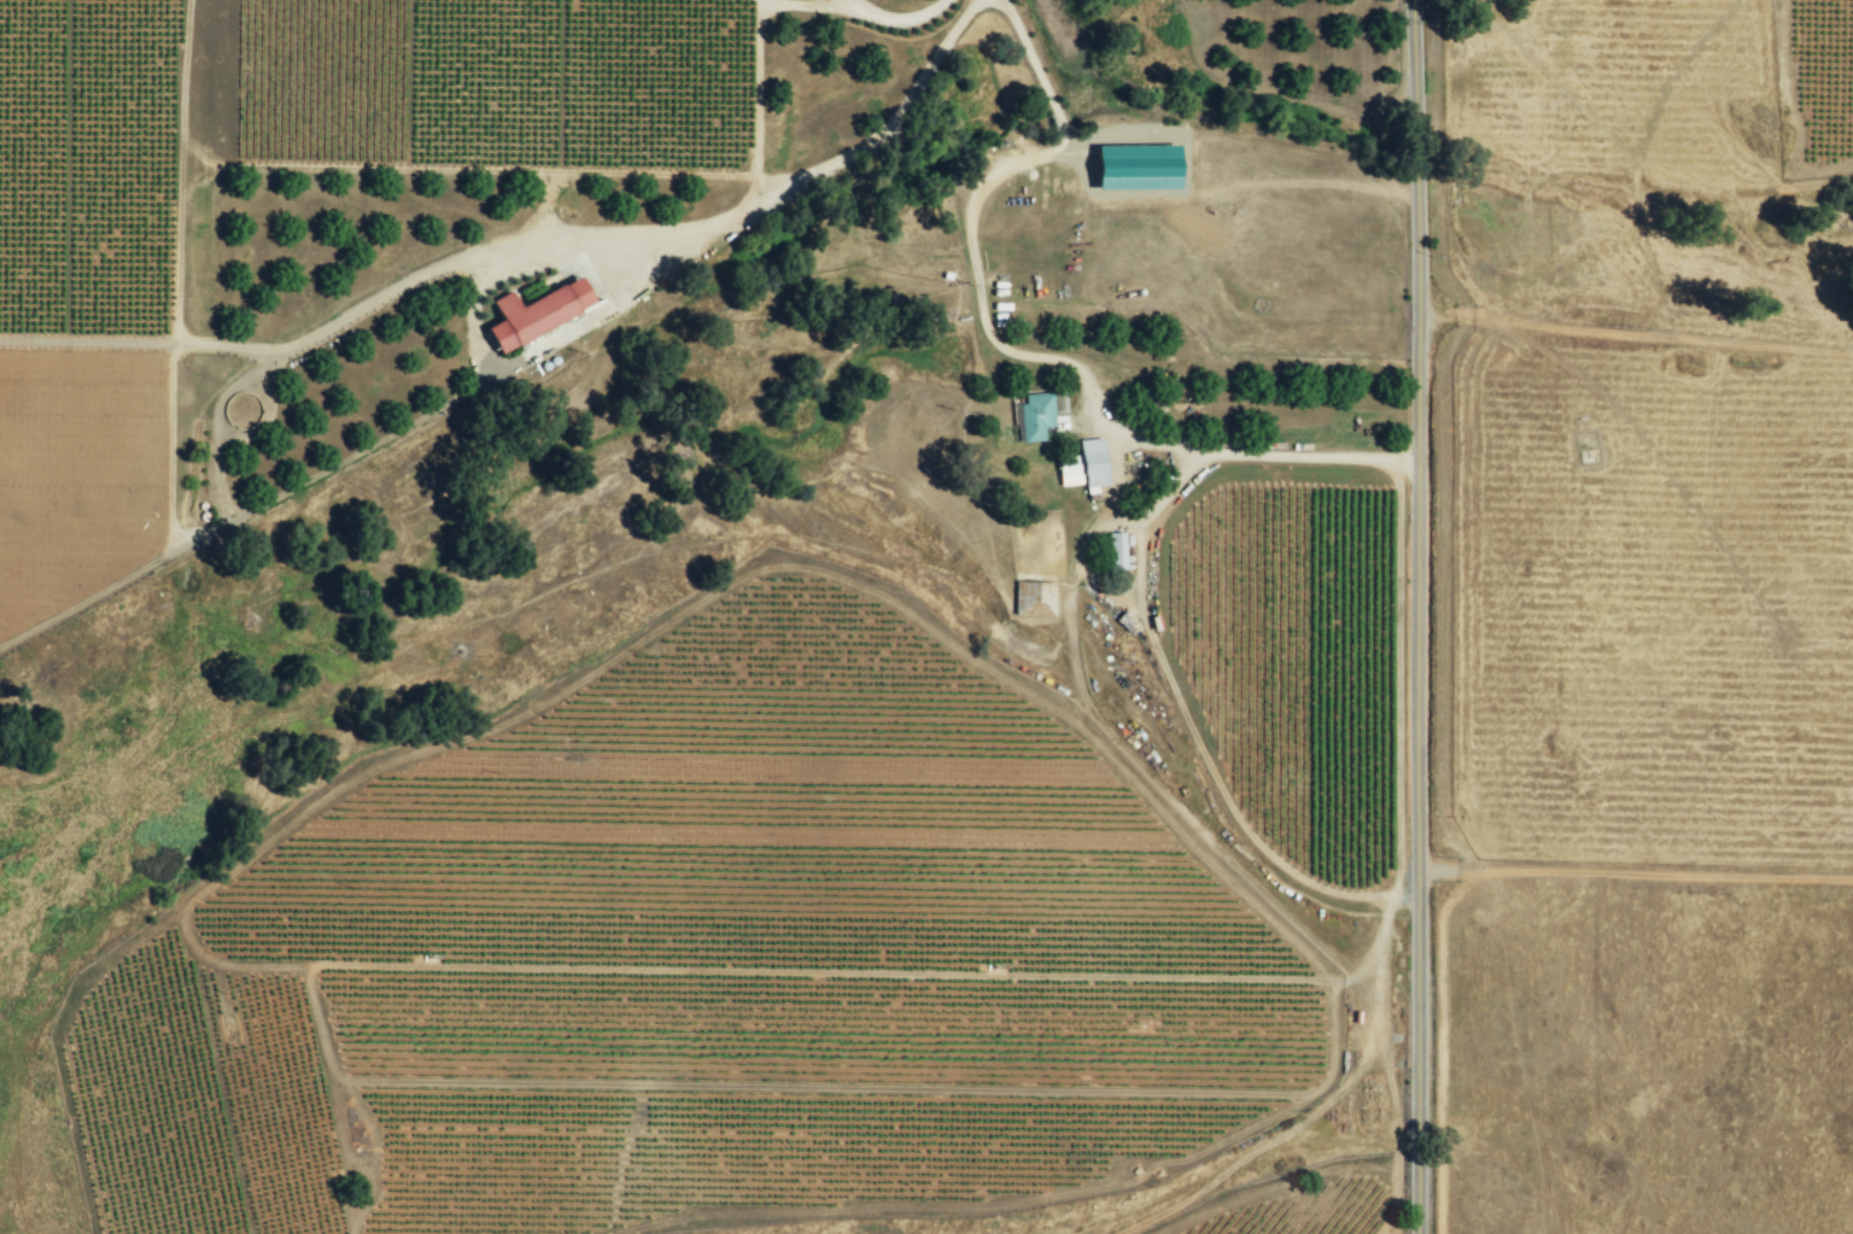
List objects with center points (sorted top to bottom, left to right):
road: (818, 2)
road: (837, 4)
road: (888, 13)
road: (799, 183)
road: (969, 227)
building: (532, 314)
building: (1037, 415)
road: (1272, 450)
building: (1083, 467)
building: (1115, 551)
building: (1033, 600)
road: (1417, 616)
road: (1189, 732)

